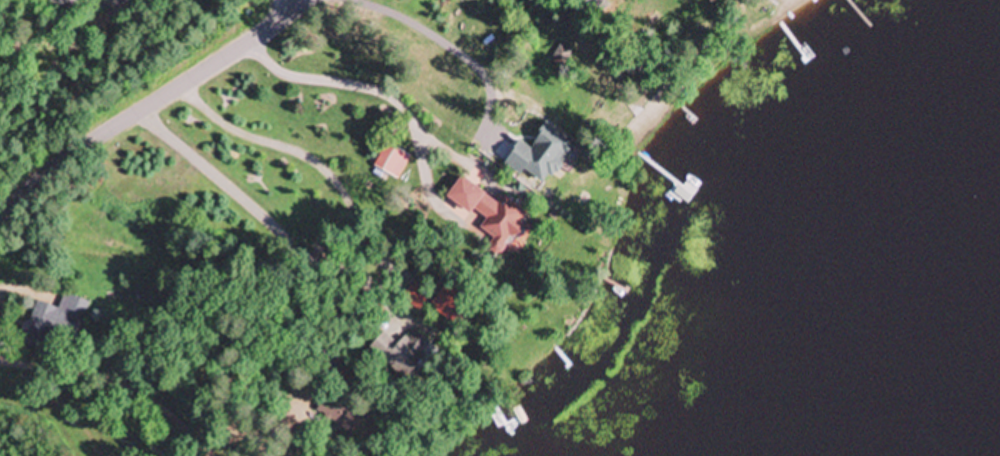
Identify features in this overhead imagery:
road: (288, 7)
road: (66, 29)
building: (561, 55)
road: (153, 106)
building: (541, 157)
building: (391, 161)
building: (489, 212)
building: (451, 306)
building: (59, 316)
building: (402, 351)
road: (86, 394)
building: (339, 411)

